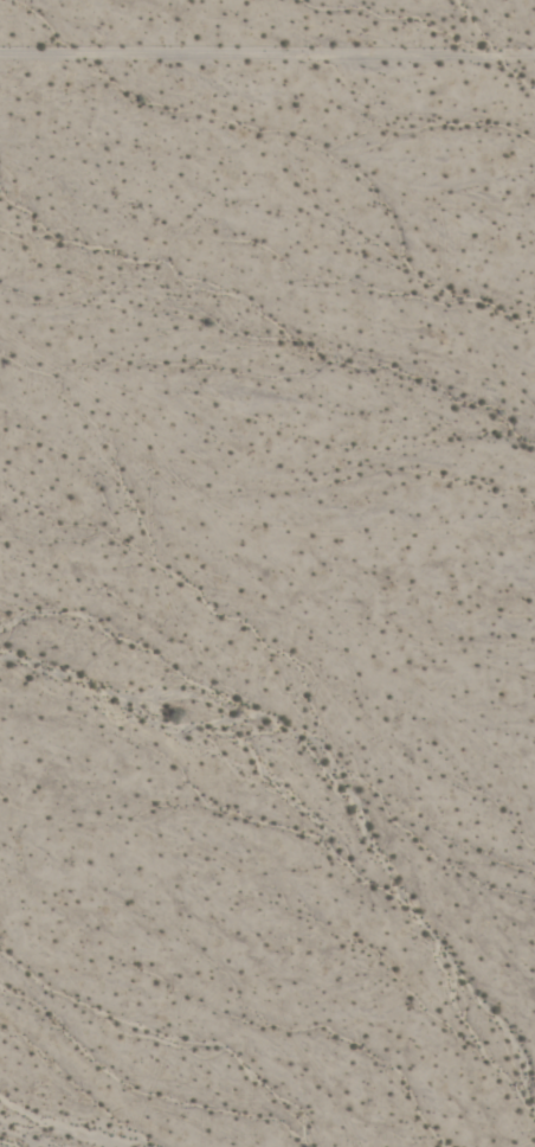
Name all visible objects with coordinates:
road: (267, 43)

